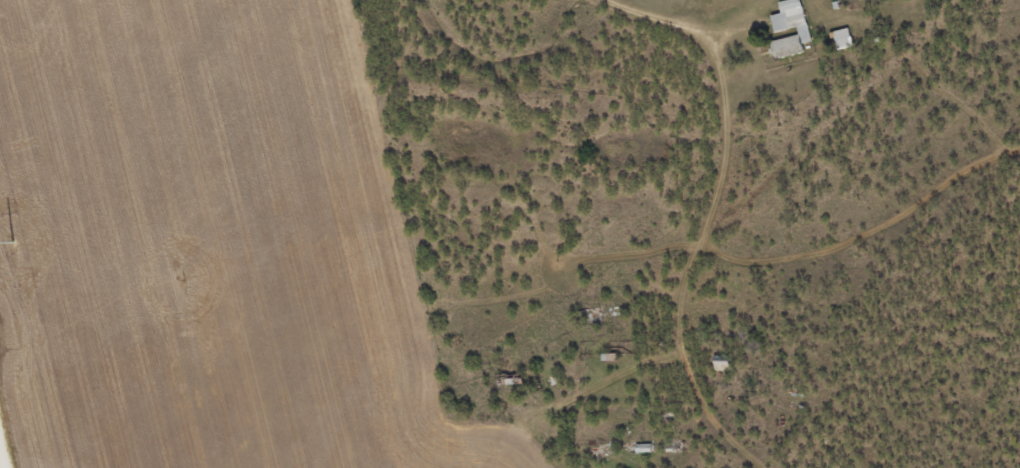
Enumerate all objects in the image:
building: (782, 32)
building: (845, 41)
road: (723, 118)
power tower: (14, 243)
building: (725, 364)

